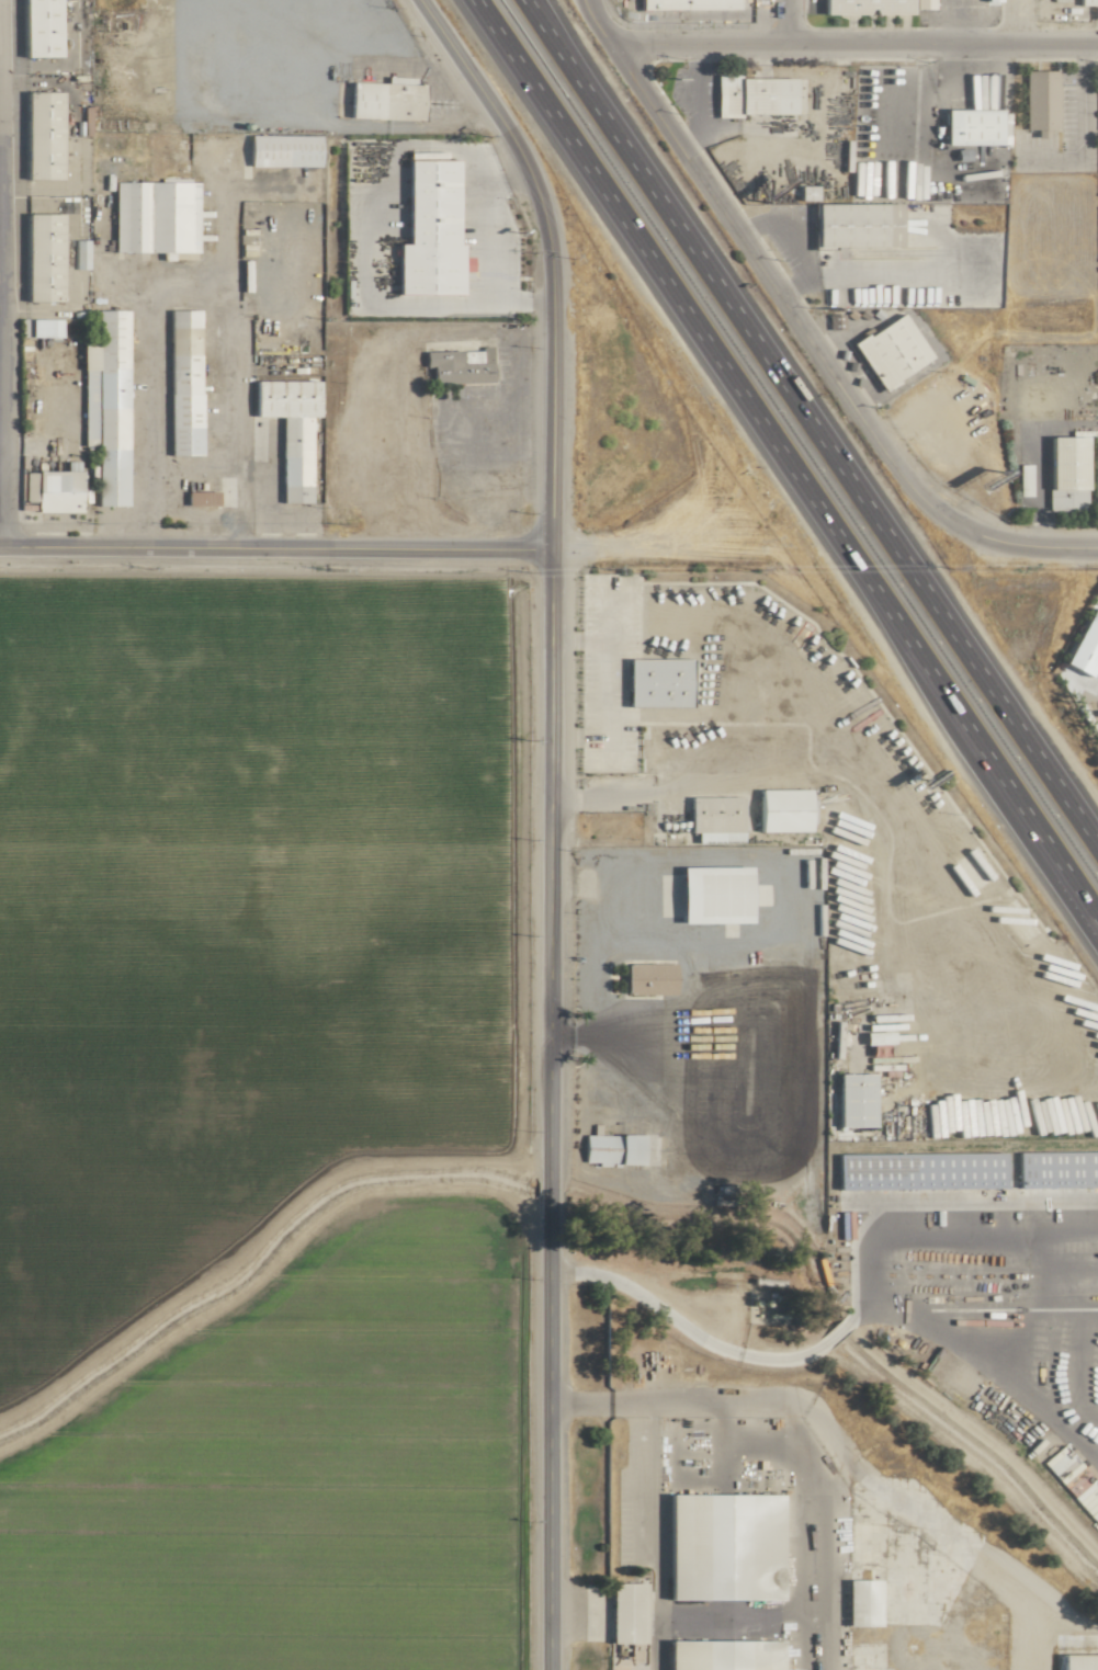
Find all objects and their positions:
building: (1086, 2)
building: (683, 4)
building: (863, 7)
road: (784, 21)
road: (1017, 21)
building: (36, 29)
road: (854, 42)
building: (751, 95)
building: (384, 100)
road: (487, 100)
building: (1038, 102)
building: (970, 127)
building: (38, 136)
building: (280, 151)
road: (503, 180)
building: (804, 193)
building: (152, 217)
road: (480, 225)
building: (852, 226)
building: (426, 228)
road: (362, 252)
building: (78, 254)
building: (39, 257)
road: (766, 275)
road: (184, 284)
building: (41, 327)
building: (888, 351)
building: (456, 365)
road: (551, 376)
building: (181, 382)
building: (104, 405)
road: (813, 421)
building: (287, 429)
road: (762, 435)
building: (1063, 472)
building: (55, 490)
building: (199, 498)
road: (1031, 545)
road: (275, 547)
building: (1083, 644)
building: (655, 681)
road: (608, 689)
building: (780, 809)
building: (715, 817)
road: (550, 862)
building: (711, 894)
road: (1078, 900)
road: (592, 956)
building: (646, 978)
building: (852, 1100)
building: (609, 1149)
building: (1057, 1168)
building: (920, 1169)
road: (548, 1196)
road: (926, 1202)
road: (686, 1325)
road: (838, 1330)
road: (545, 1442)
road: (803, 1466)
road: (652, 1487)
building: (720, 1547)
building: (860, 1603)
building: (623, 1613)
building: (720, 1655)
building: (1076, 1662)

